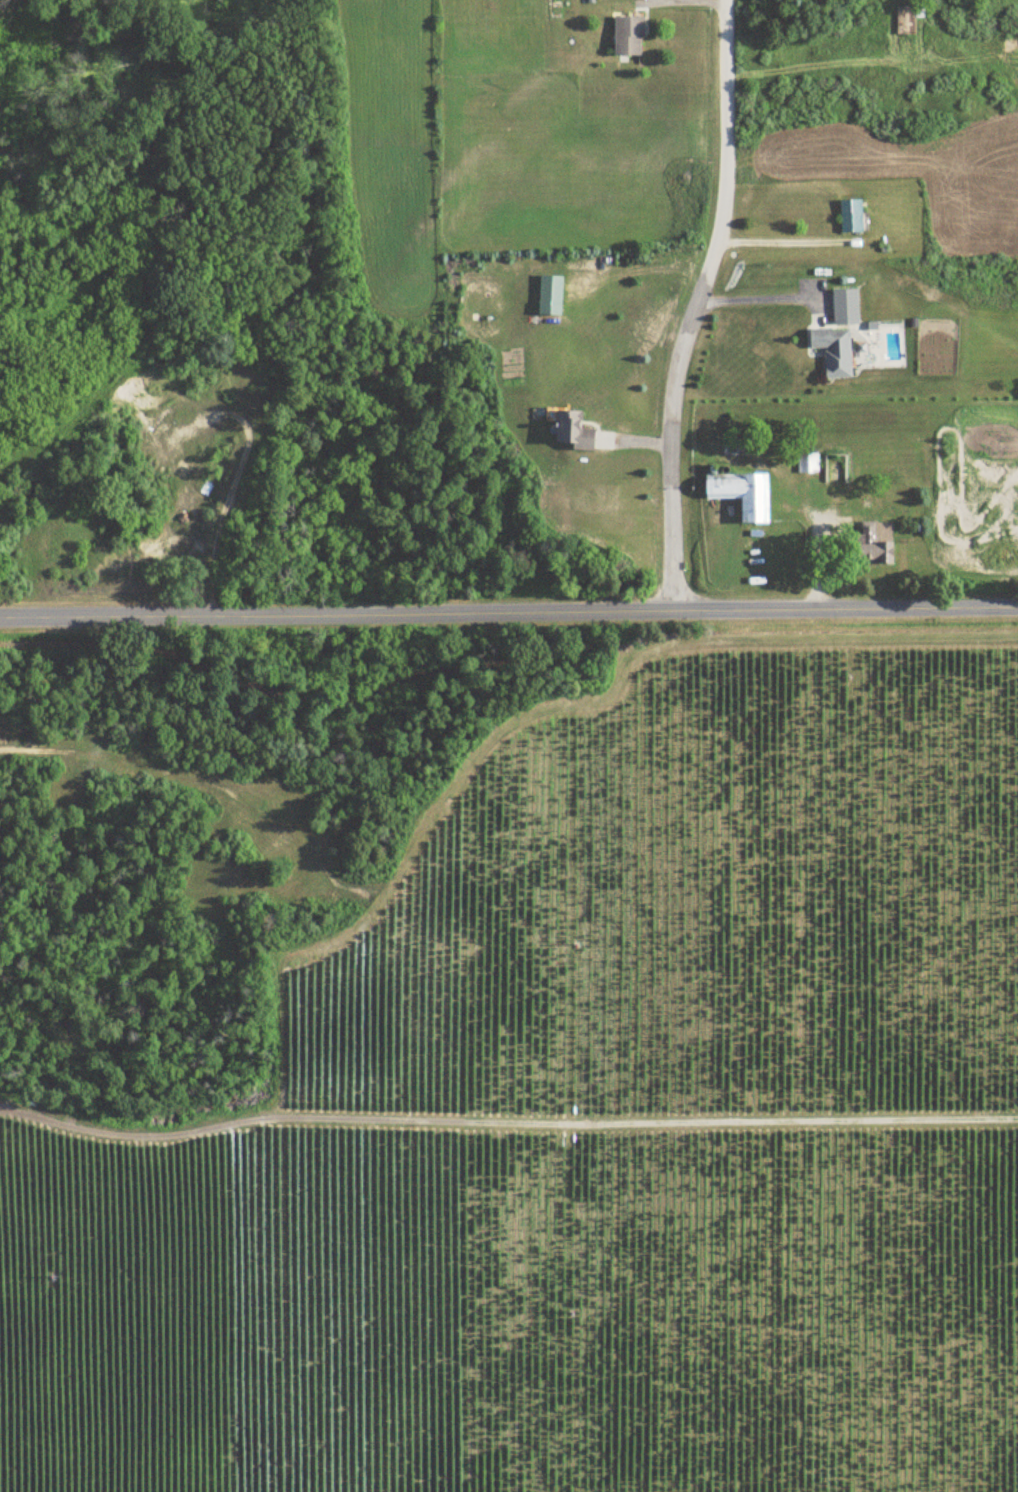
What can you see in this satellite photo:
road: (719, 1)
building: (907, 18)
building: (627, 34)
building: (849, 215)
road: (784, 238)
building: (549, 294)
road: (755, 295)
road: (695, 303)
building: (832, 350)
building: (573, 431)
building: (807, 461)
quarry: (147, 480)
building: (740, 494)
road: (224, 500)
building: (871, 546)
road: (508, 610)

